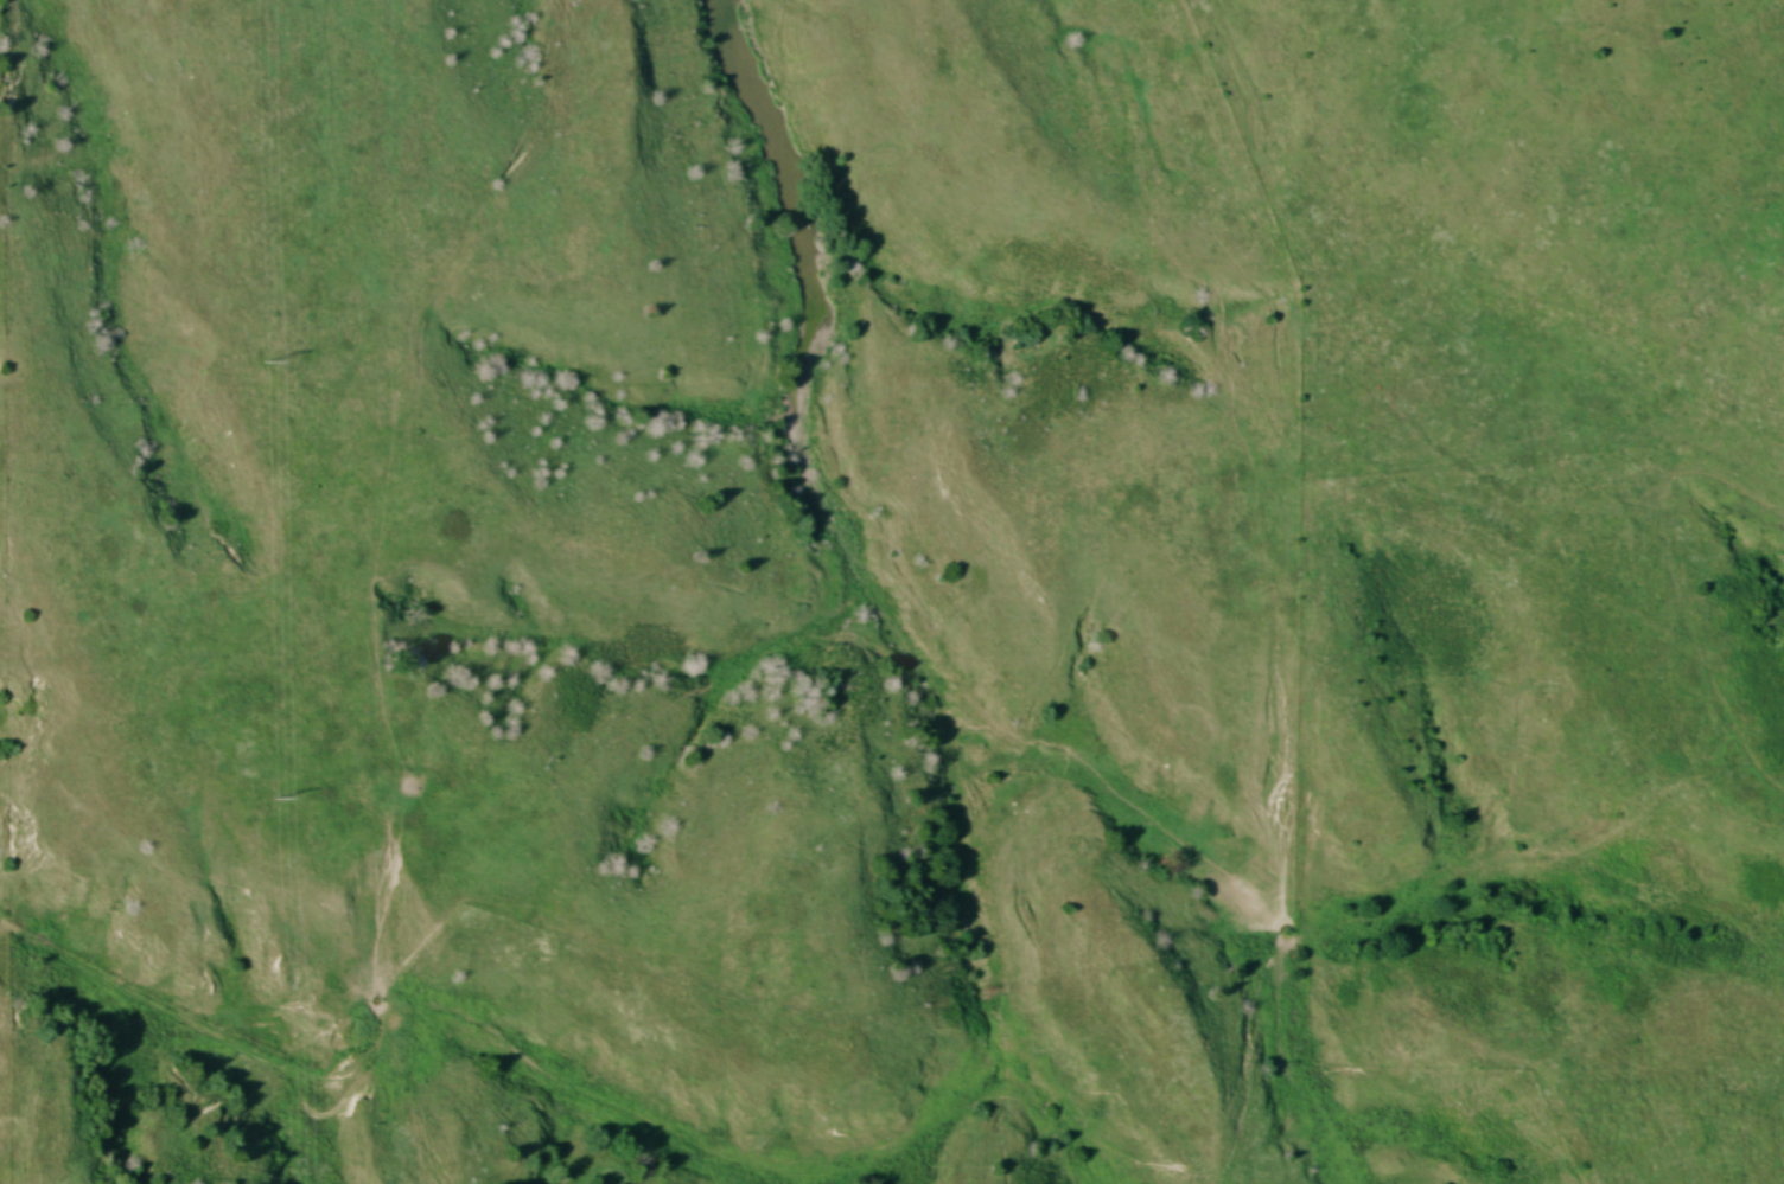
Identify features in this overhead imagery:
power tower: (269, 365)
power tower: (279, 798)

